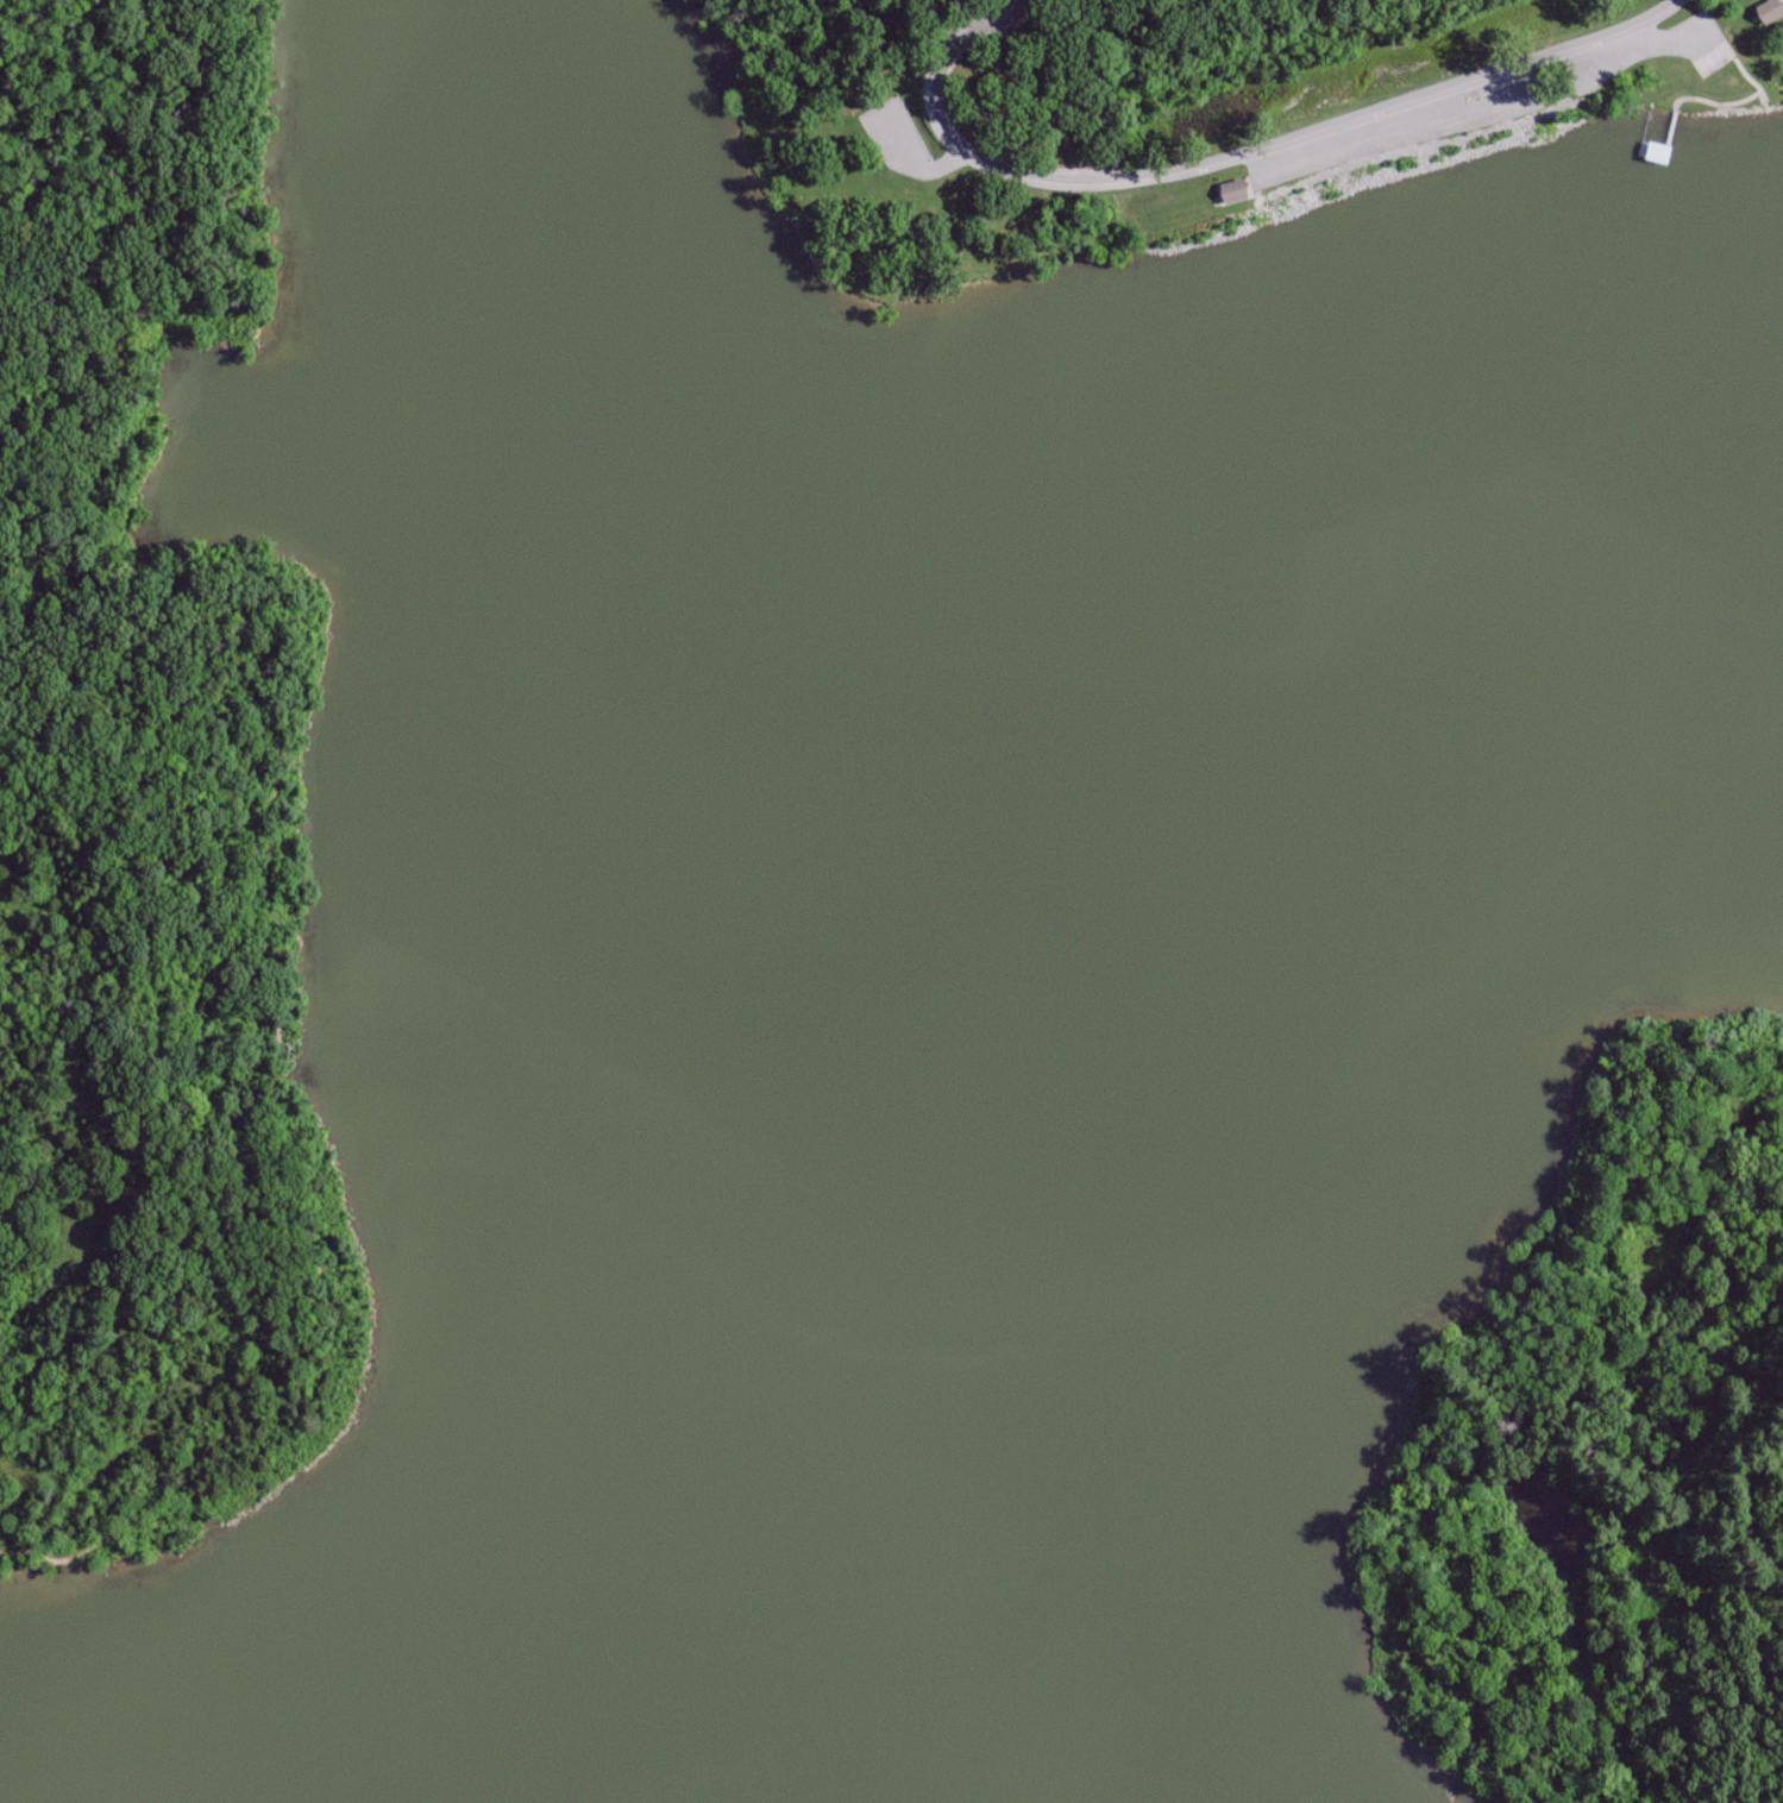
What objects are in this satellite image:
building: (1753, 13)
road: (824, 50)
parking lot: (898, 126)
building: (1655, 153)
road: (914, 159)
road: (1230, 159)
road: (266, 772)

